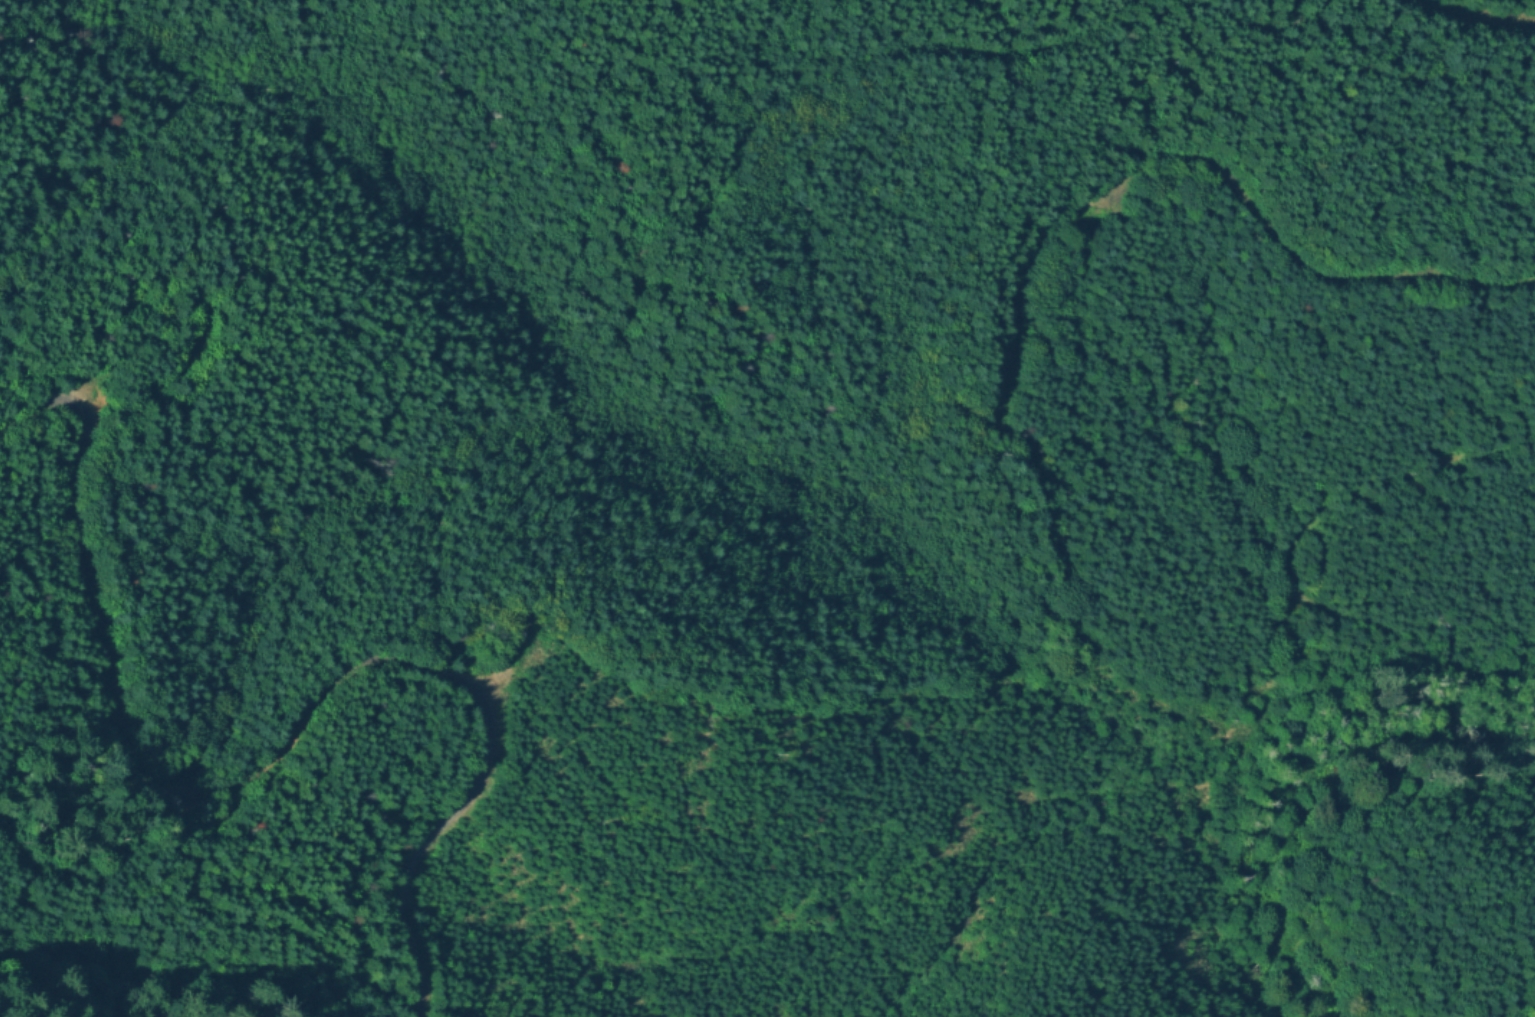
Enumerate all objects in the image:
road: (1476, 18)
road: (1079, 39)
road: (1213, 168)
road: (1298, 540)
road: (267, 766)

